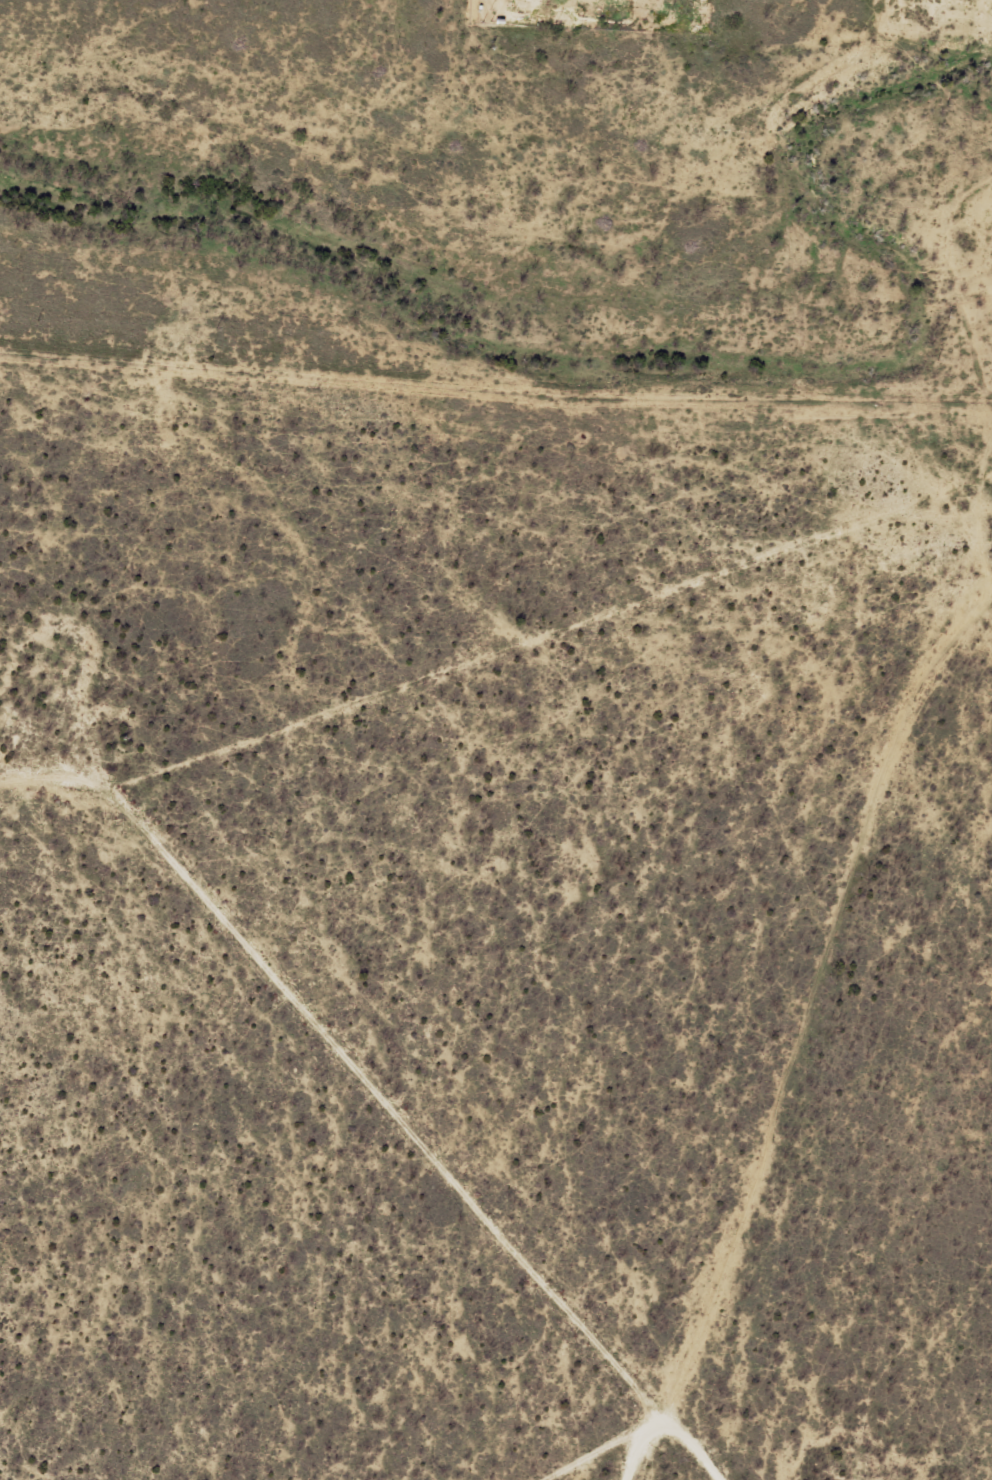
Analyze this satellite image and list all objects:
road: (817, 950)

